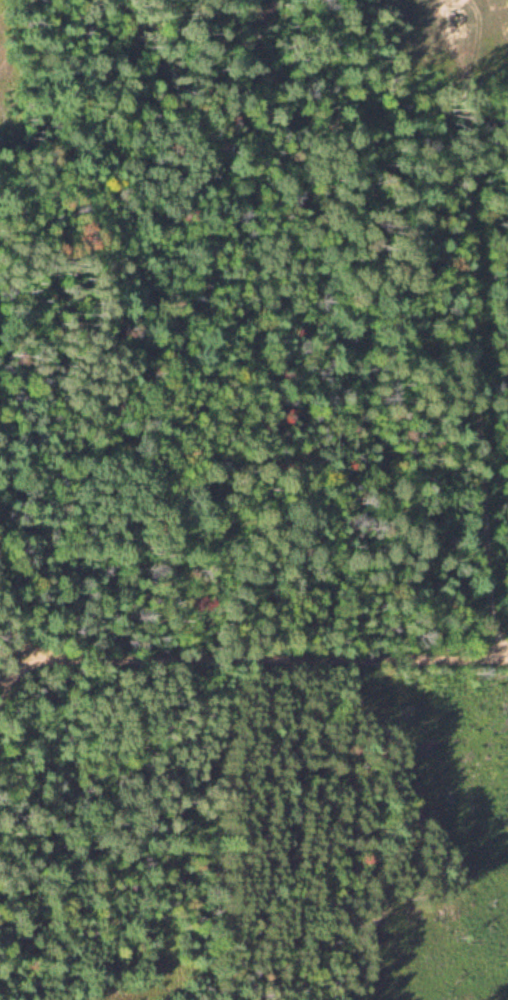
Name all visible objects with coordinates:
petroleum well: (453, 16)
road: (489, 587)
road: (2, 646)
road: (491, 655)

